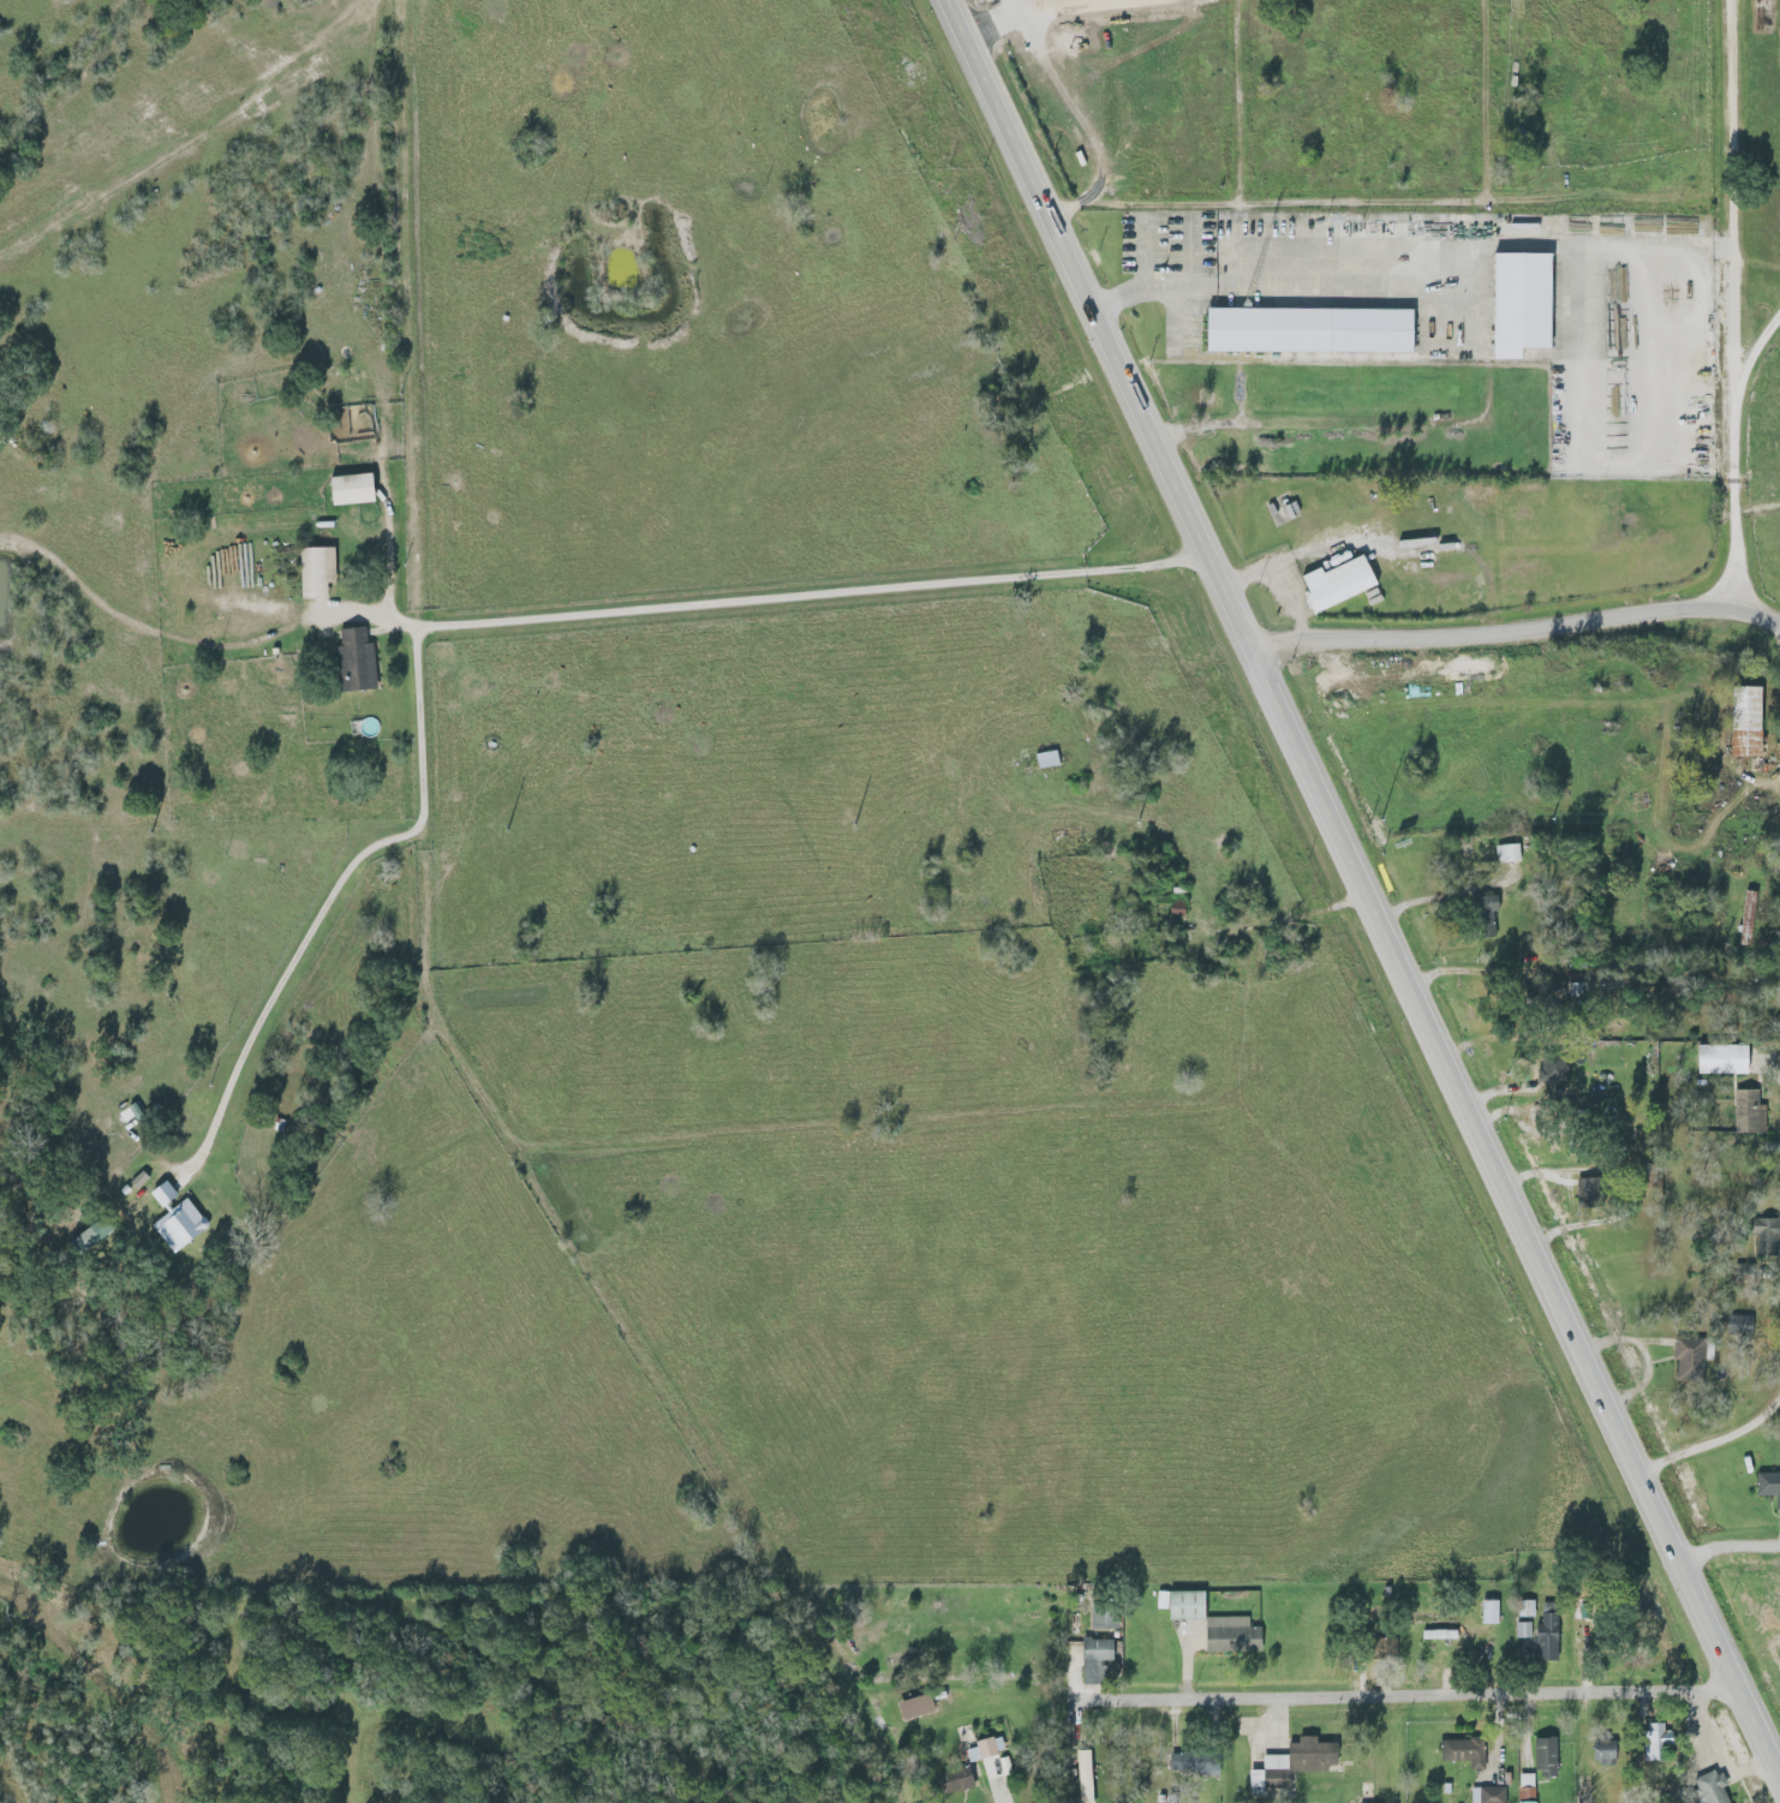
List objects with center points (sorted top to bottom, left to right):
road: (1733, 189)
road: (1391, 204)
building: (1515, 304)
road: (1483, 320)
building: (1304, 332)
road: (1315, 425)
road: (1737, 462)
building: (346, 490)
building: (312, 572)
building: (1332, 584)
road: (798, 591)
road: (1758, 621)
road: (1498, 634)
building: (363, 661)
building: (1740, 721)
building: (1044, 760)
power tower: (1557, 819)
power tower: (1369, 820)
power tower: (1136, 822)
power tower: (853, 824)
power tower: (502, 829)
power tower: (151, 834)
building: (1504, 853)
road: (1363, 879)
road: (336, 882)
road: (1455, 897)
building: (1173, 909)
building: (1184, 909)
building: (1491, 917)
building: (1744, 918)
road: (1288, 921)
building: (1547, 993)
building: (1716, 1059)
building: (1549, 1069)
building: (1757, 1110)
building: (1594, 1195)
building: (1763, 1234)
building: (1737, 1325)
building: (1697, 1357)
road: (1714, 1446)
building: (1773, 1485)
road: (757, 1533)
road: (1727, 1544)
building: (1178, 1605)
building: (1524, 1608)
building: (1486, 1612)
building: (1101, 1619)
building: (1521, 1630)
building: (1447, 1635)
building: (1240, 1636)
building: (1554, 1637)
building: (1545, 1638)
building: (1385, 1650)
building: (1103, 1656)
road: (1426, 1702)
building: (913, 1707)
building: (1651, 1742)
building: (1663, 1743)
building: (987, 1747)
building: (1473, 1751)
building: (1611, 1754)
building: (1318, 1756)
building: (1553, 1757)
building: (1200, 1763)
building: (1081, 1777)
building: (954, 1781)
building: (1719, 1789)
building: (1485, 1795)

